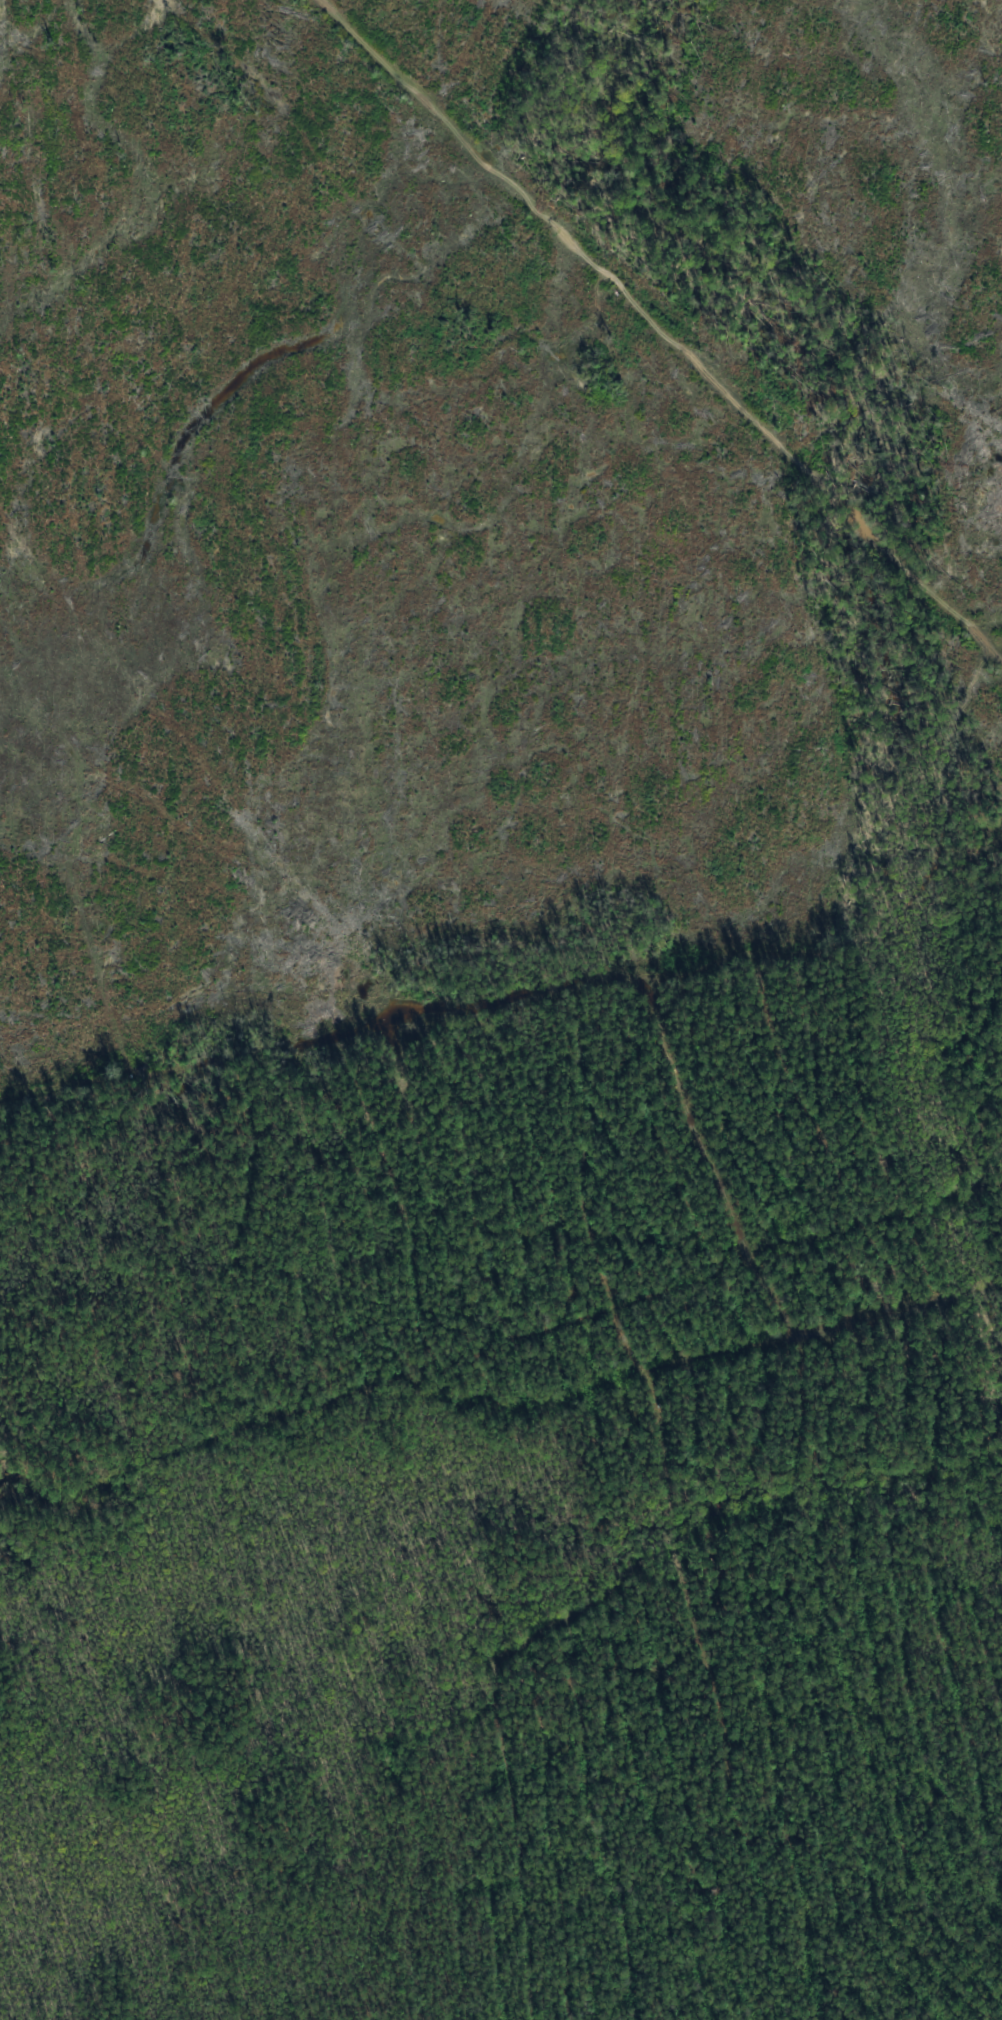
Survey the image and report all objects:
road: (501, 1342)

